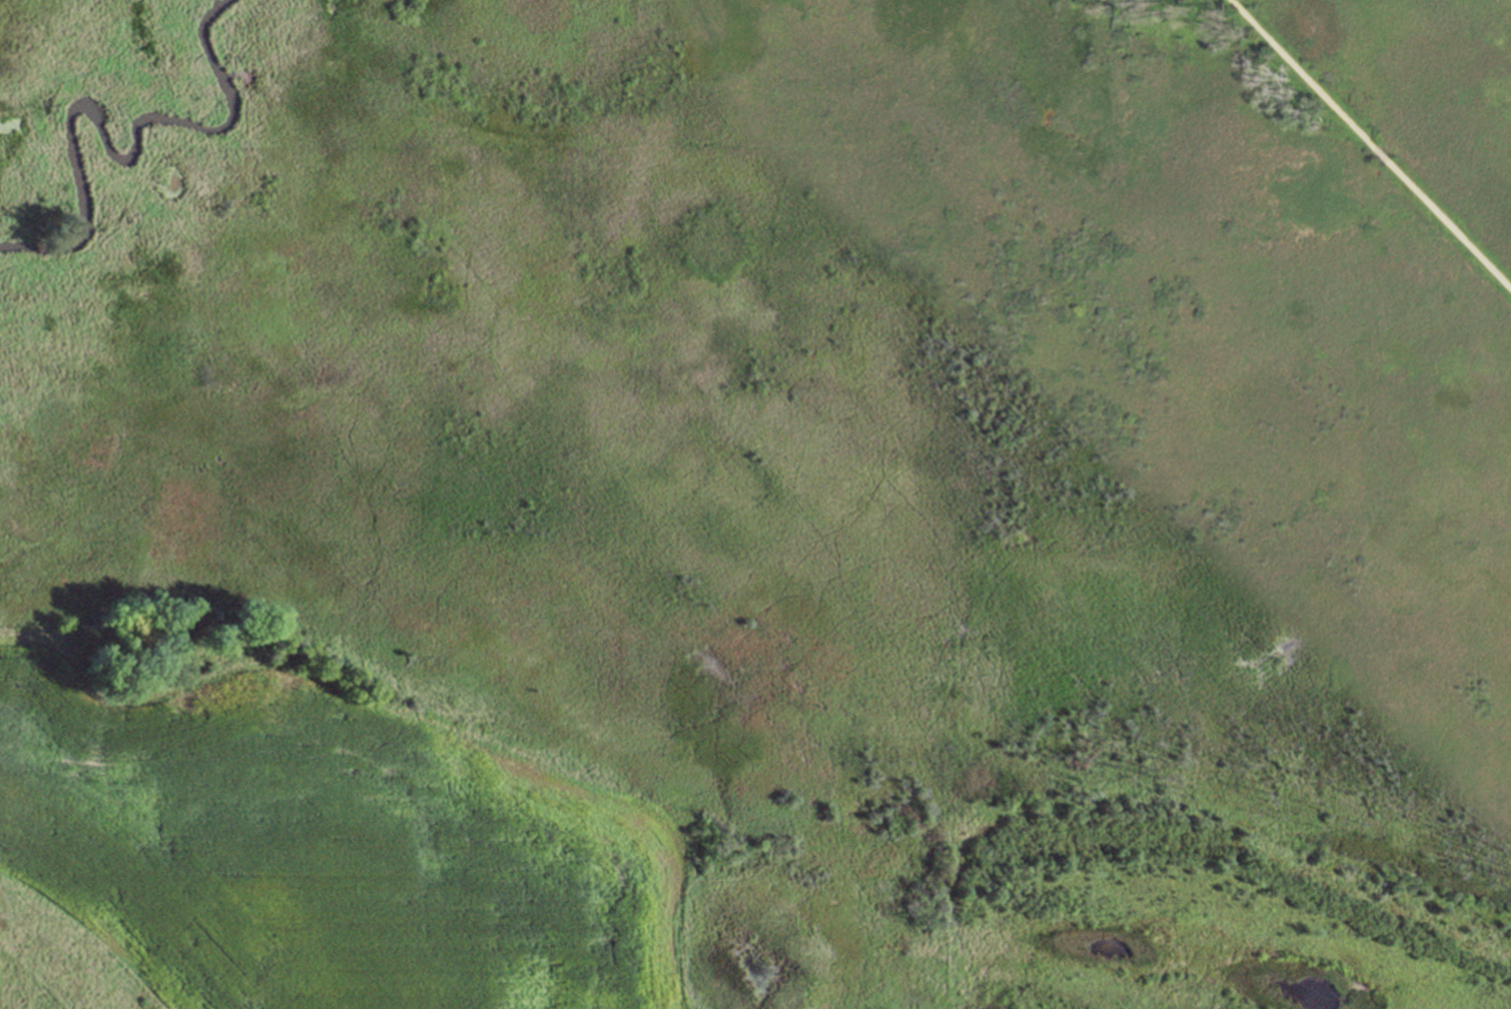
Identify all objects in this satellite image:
road: (1370, 145)

